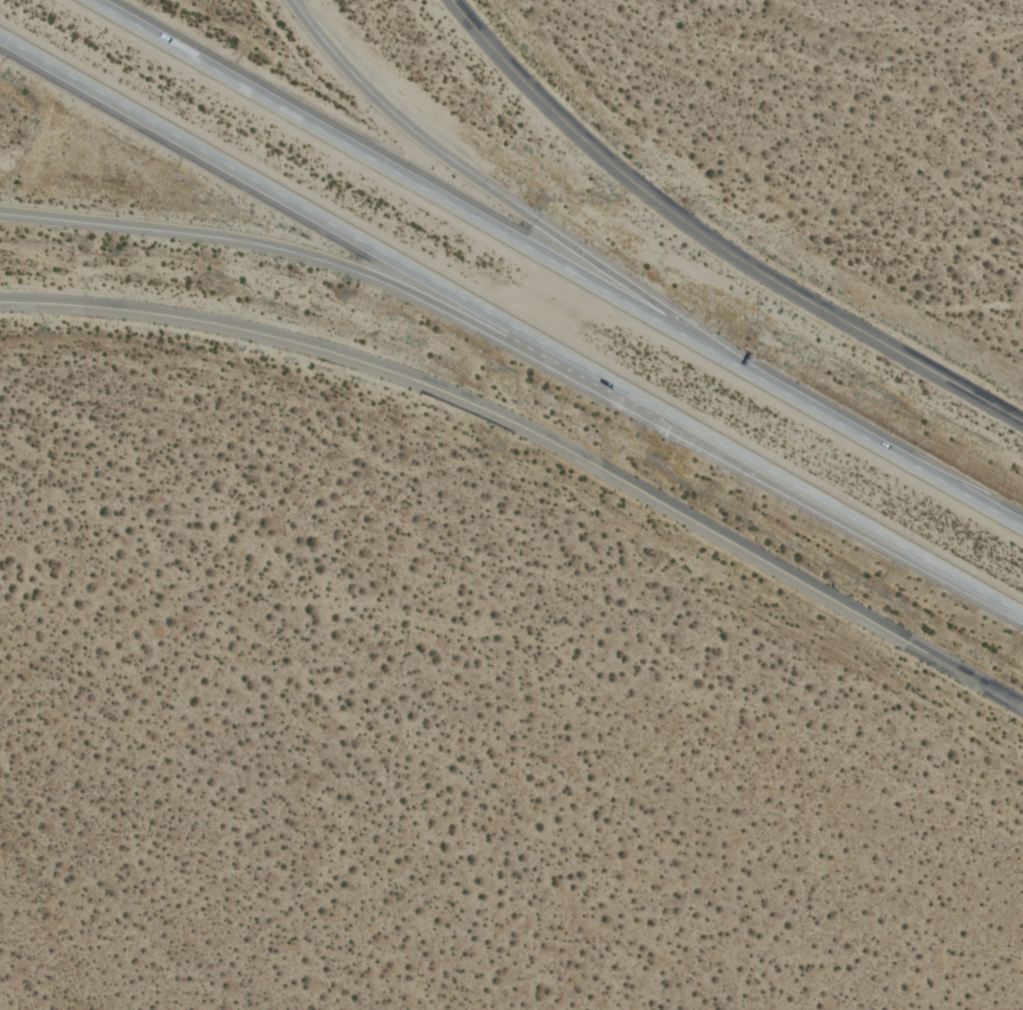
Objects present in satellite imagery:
crop: (847, 122)
road: (500, 197)
road: (712, 244)
road: (565, 258)
road: (349, 268)
road: (894, 270)
road: (512, 317)
road: (536, 434)

